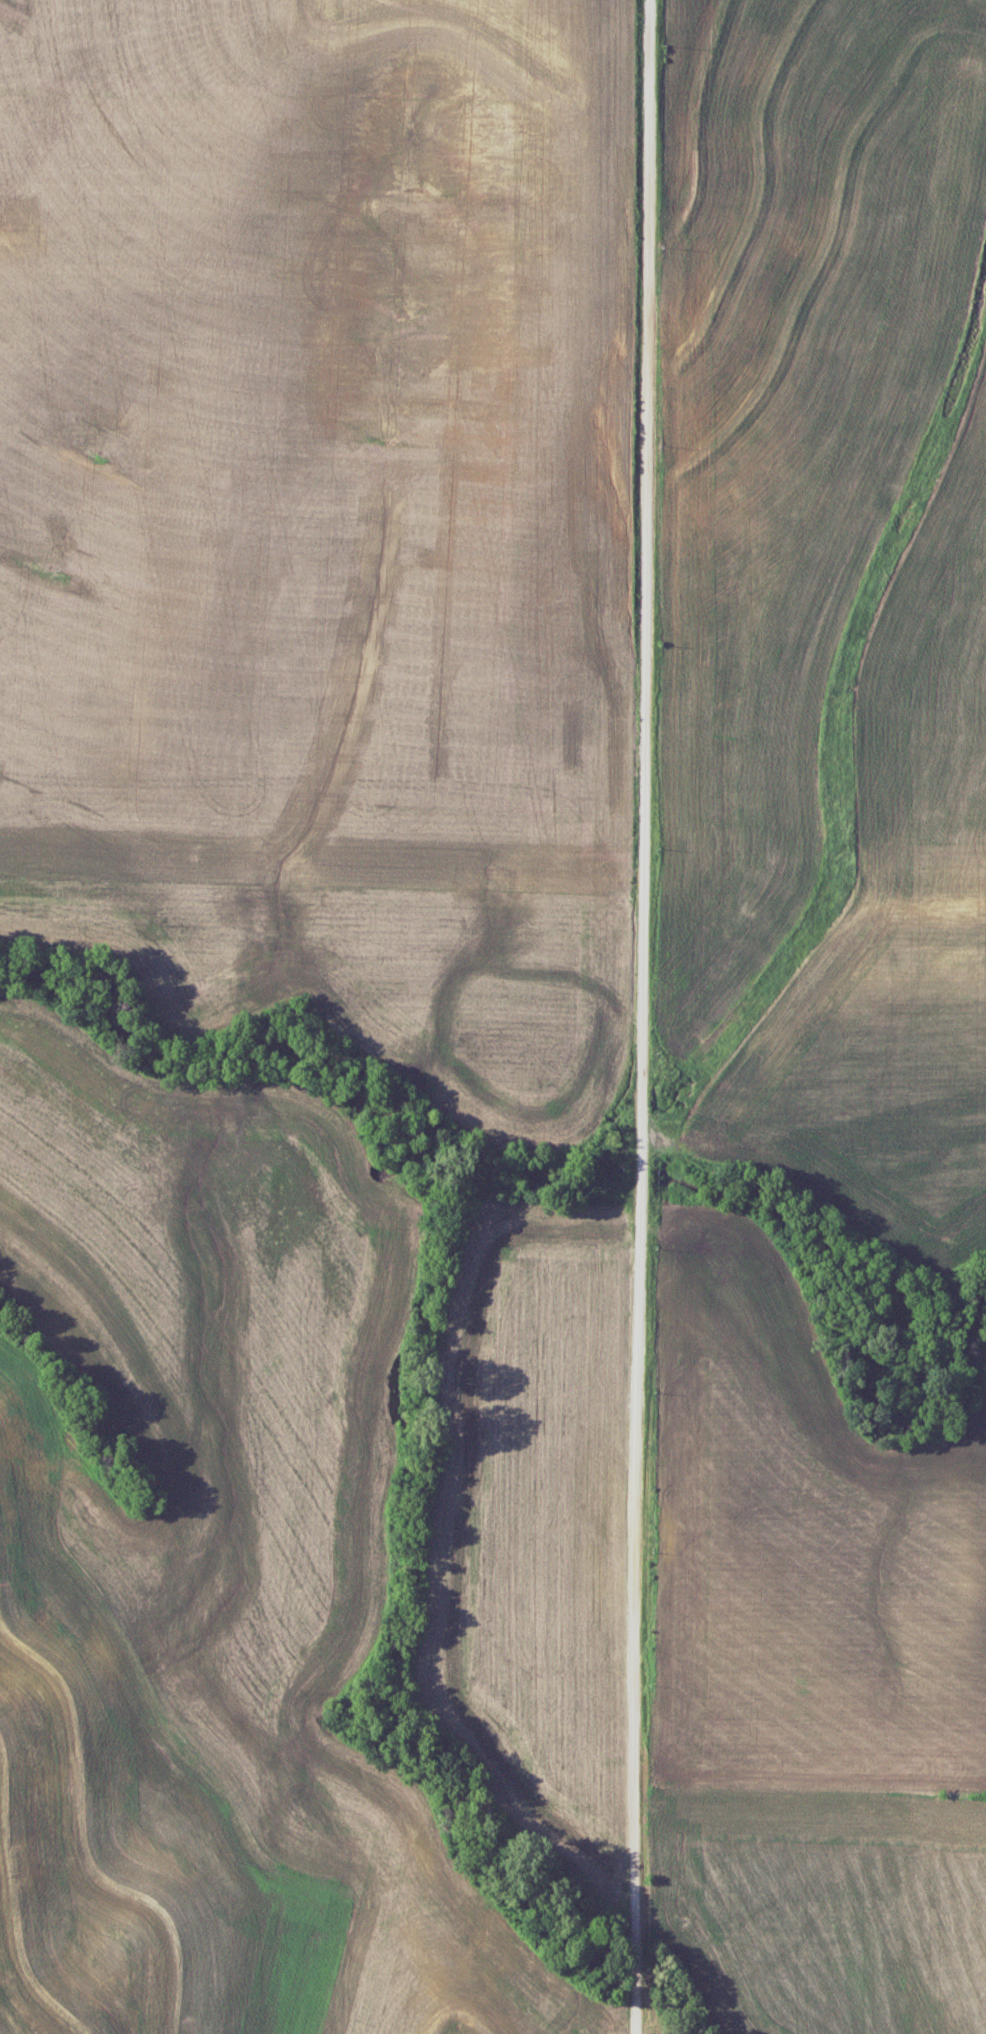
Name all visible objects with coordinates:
road: (644, 1016)

